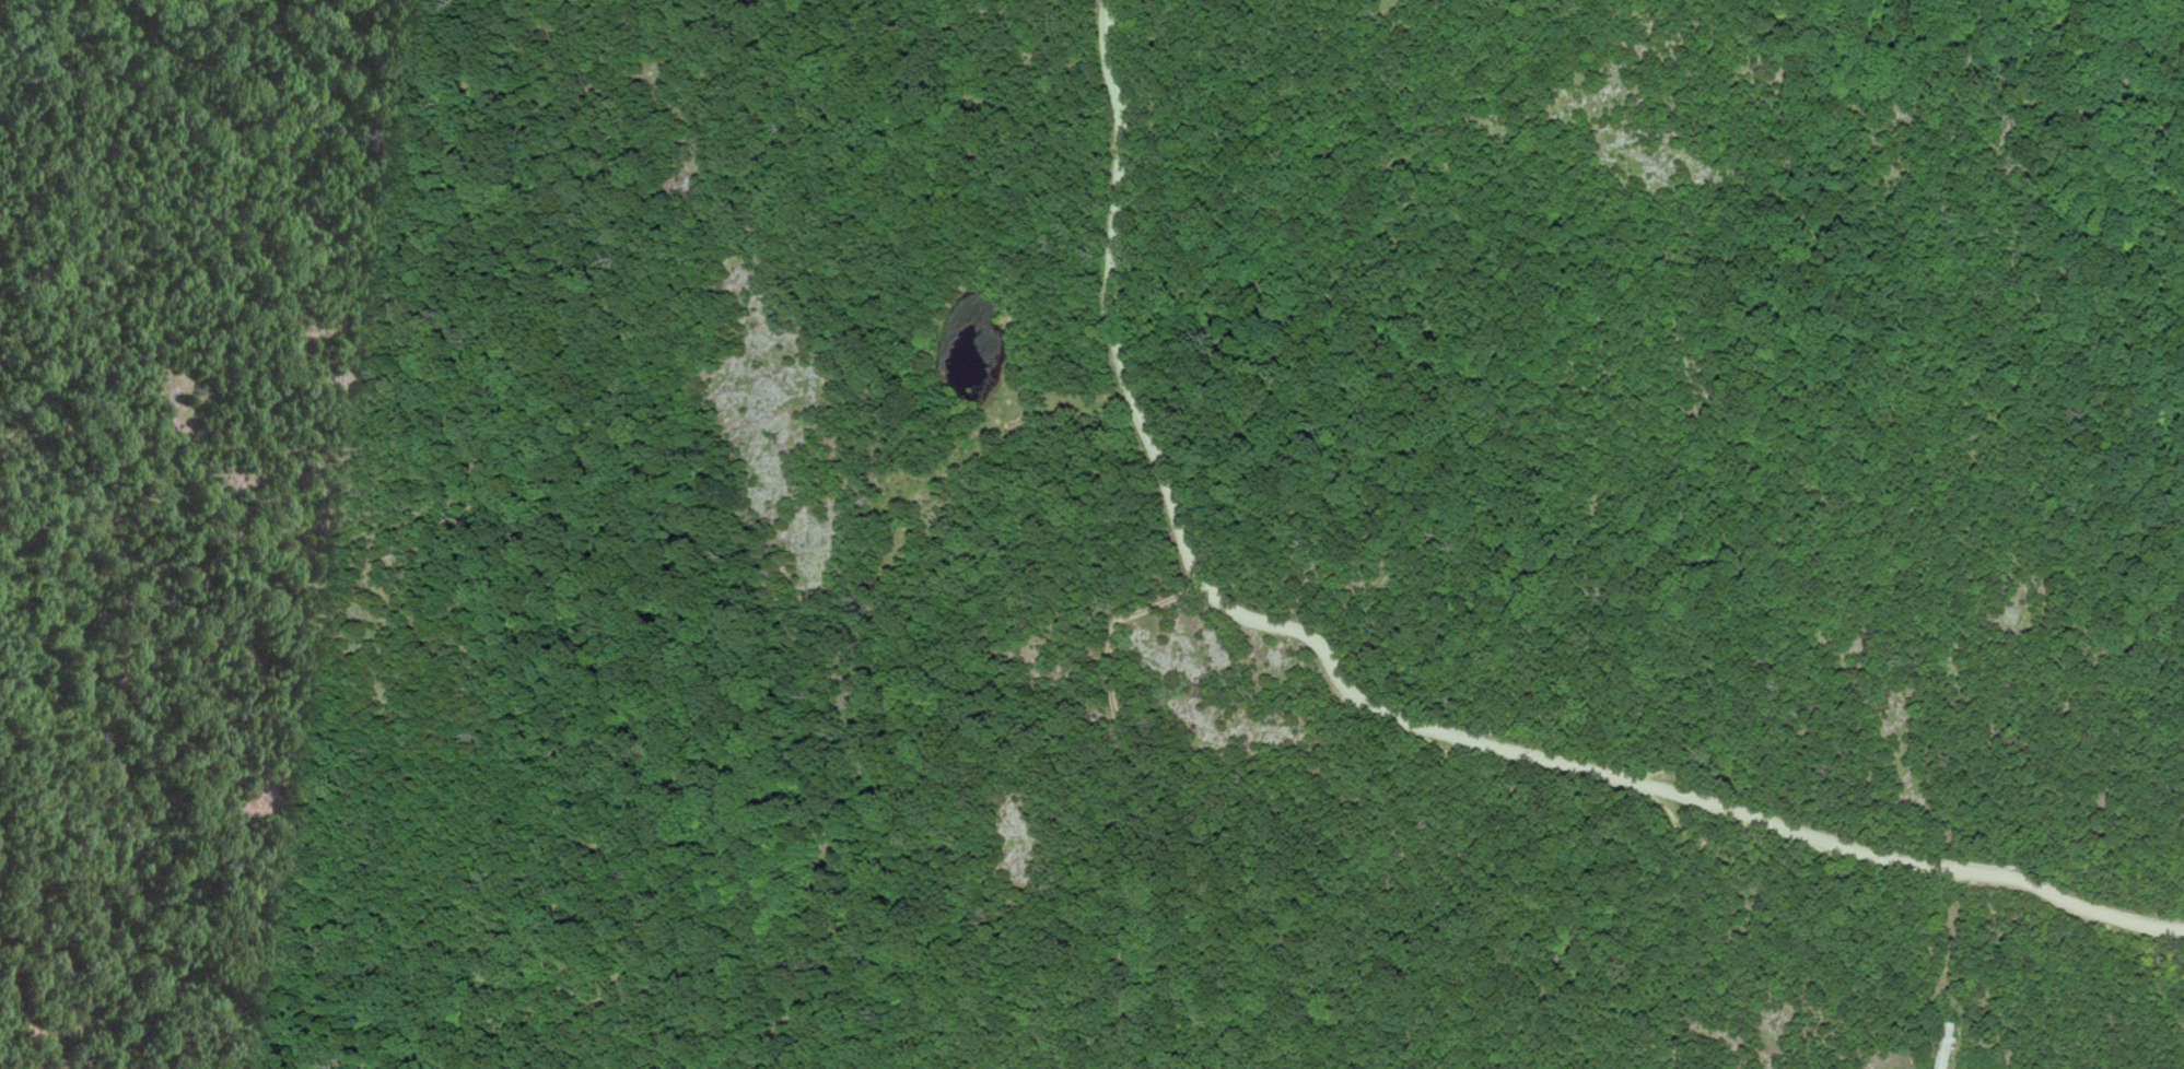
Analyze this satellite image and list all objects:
building: (1946, 1046)

